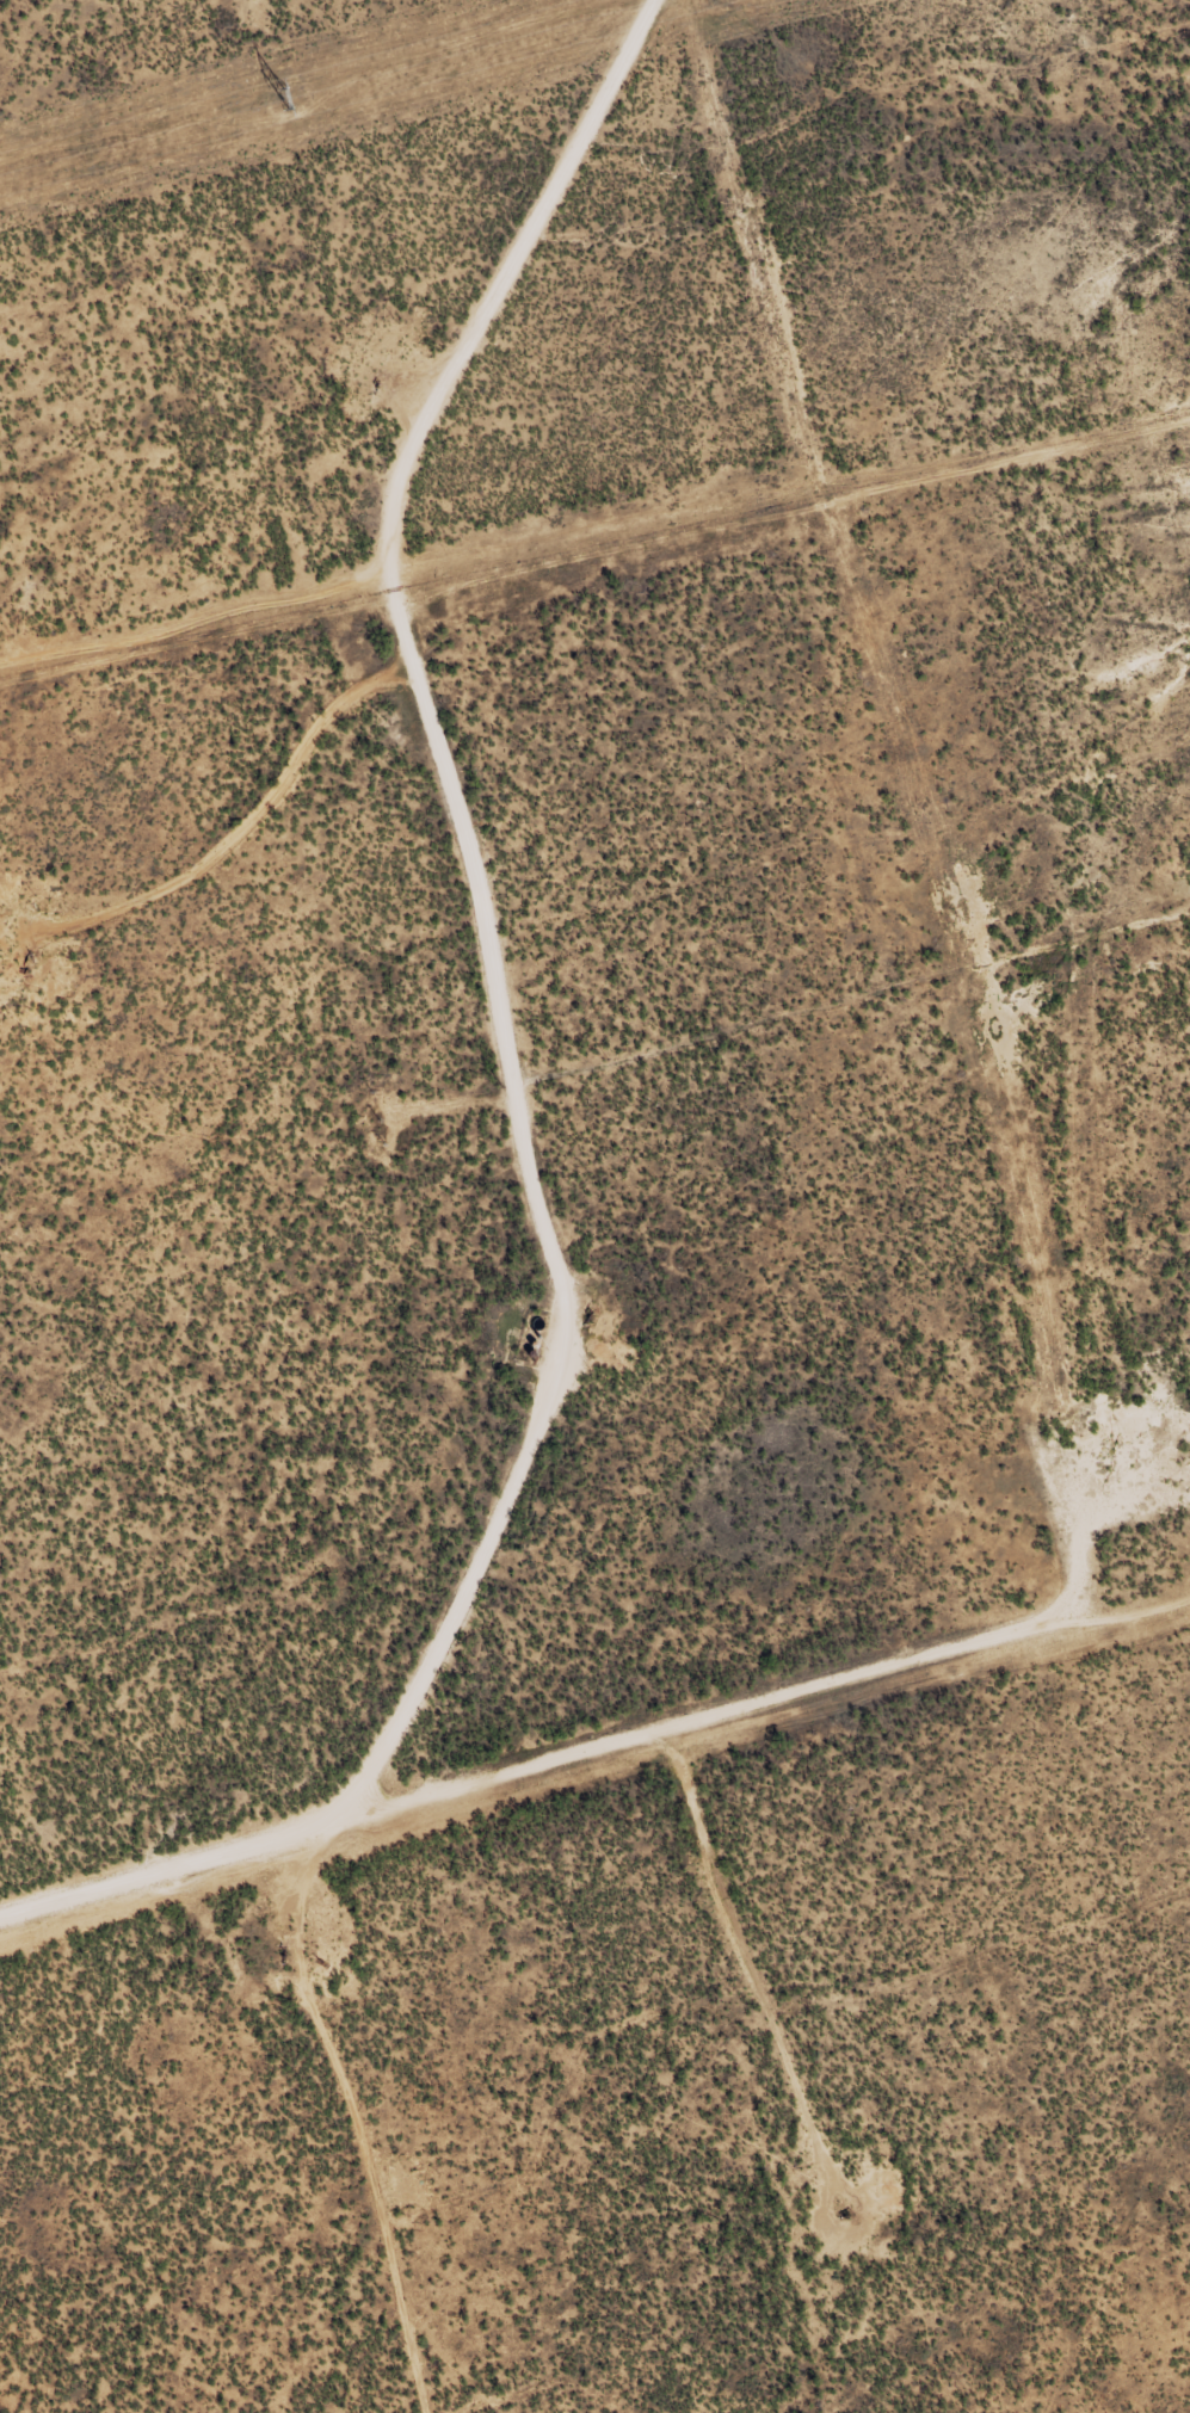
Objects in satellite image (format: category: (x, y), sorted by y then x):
power tower: (289, 98)

